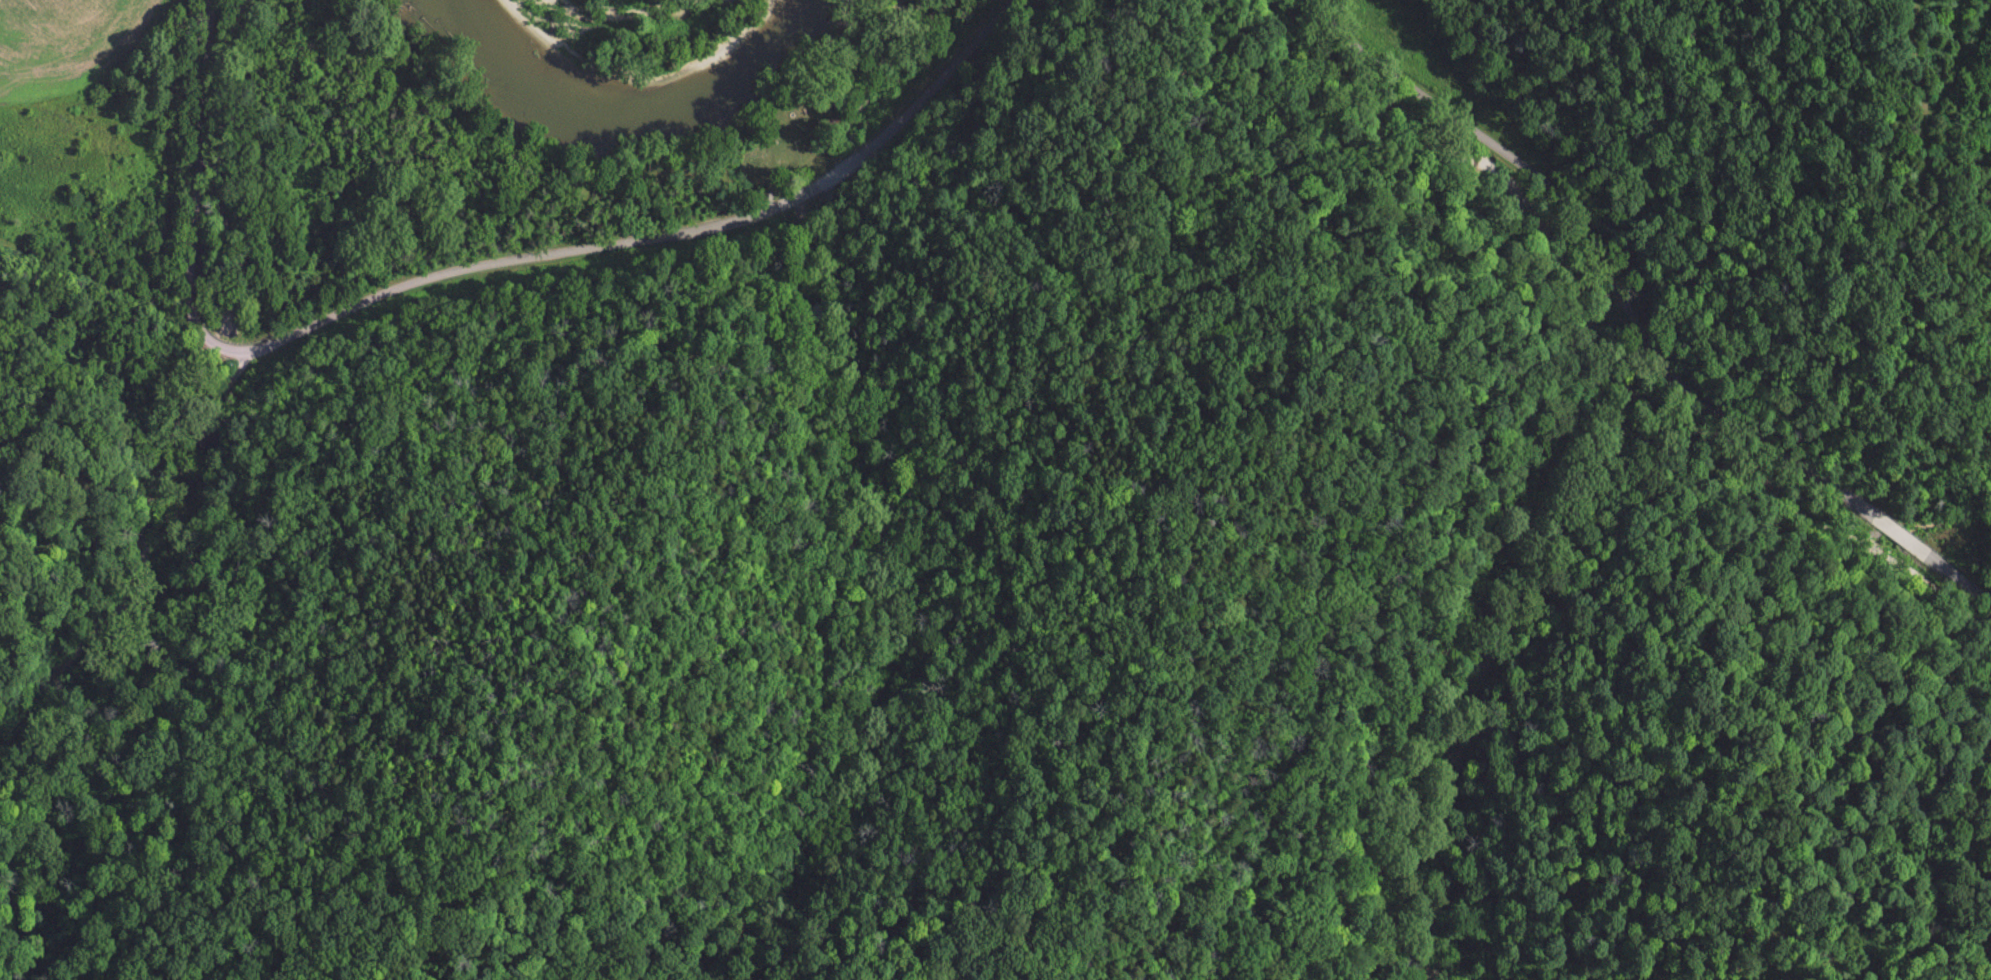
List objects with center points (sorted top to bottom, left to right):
road: (473, 271)
road: (1631, 322)

